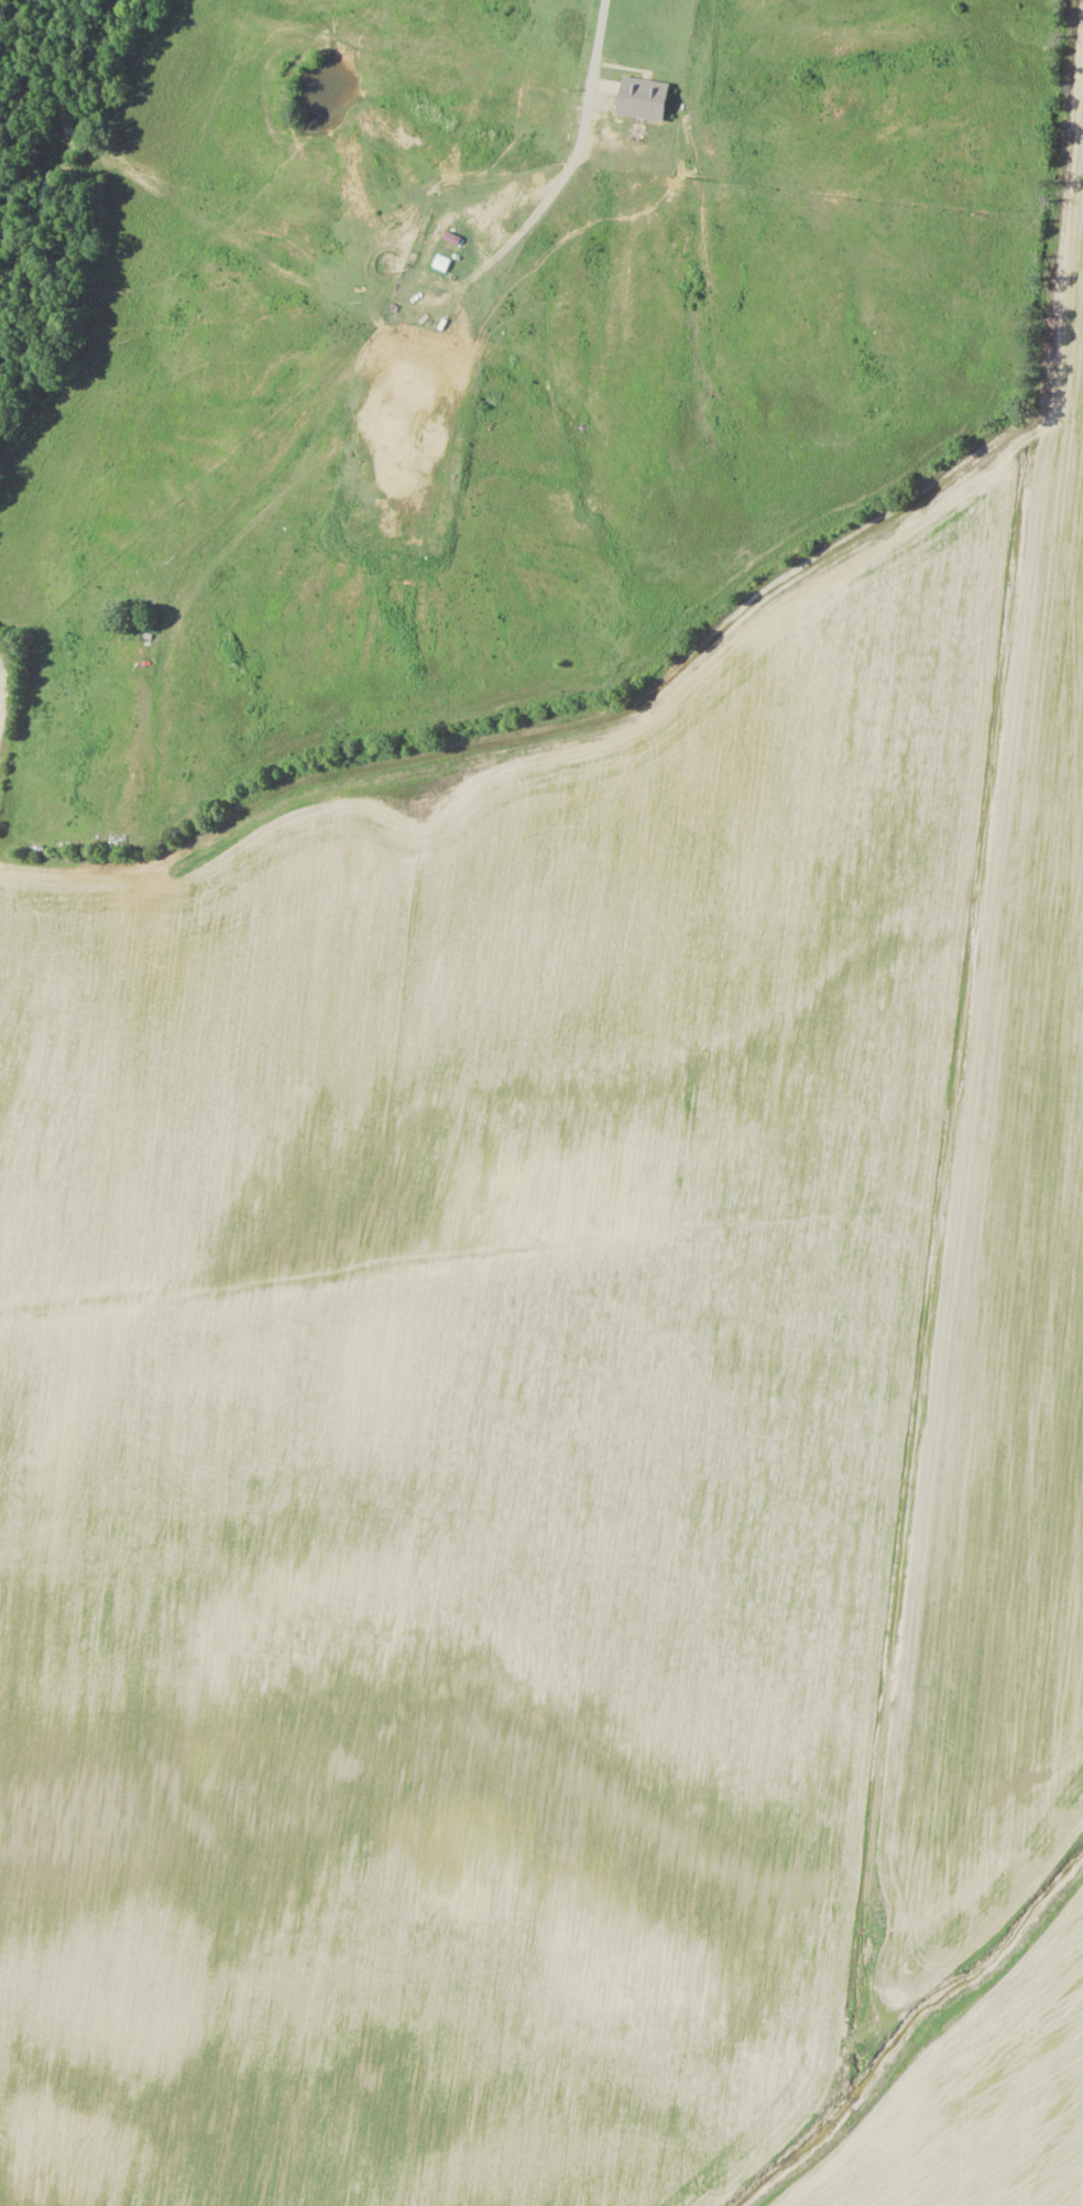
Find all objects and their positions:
building: (458, 239)

